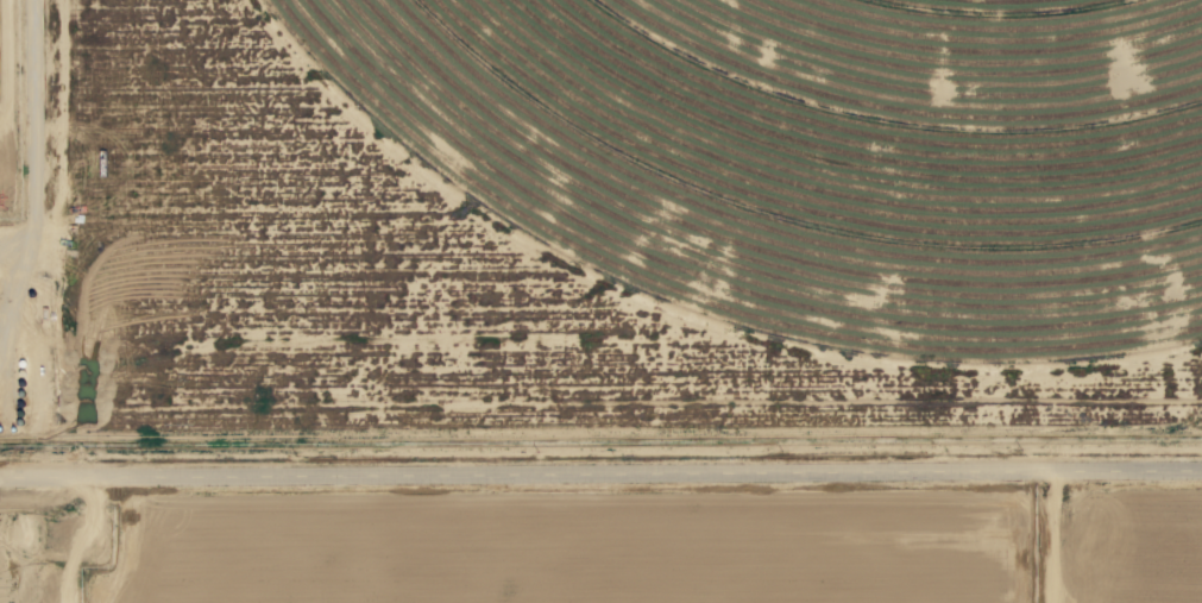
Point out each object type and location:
crop: (6, 44)
crop: (825, 152)
road: (37, 239)
road: (600, 478)
road: (78, 538)
road: (1045, 539)
crop: (219, 548)

